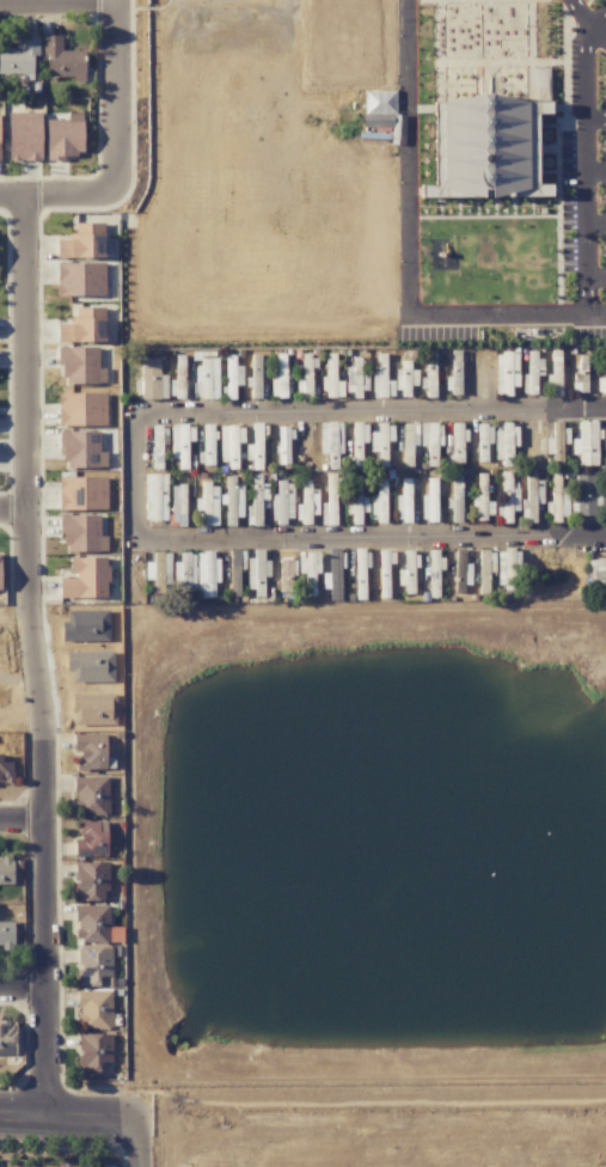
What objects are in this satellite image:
road: (598, 26)
building: (19, 56)
building: (62, 60)
road: (116, 92)
building: (384, 114)
road: (594, 117)
building: (24, 135)
building: (65, 136)
building: (490, 147)
road: (583, 148)
road: (595, 172)
building: (434, 177)
road: (59, 194)
road: (595, 225)
building: (82, 242)
road: (409, 242)
road: (595, 276)
building: (80, 279)
road: (595, 311)
building: (82, 325)
building: (80, 366)
building: (280, 367)
building: (506, 372)
building: (531, 372)
building: (555, 372)
building: (256, 374)
building: (207, 378)
building: (405, 378)
building: (381, 379)
building: (152, 380)
building: (355, 380)
building: (429, 381)
building: (81, 409)
building: (330, 441)
building: (506, 442)
building: (380, 444)
building: (556, 444)
building: (586, 444)
building: (179, 445)
building: (605, 445)
building: (80, 448)
building: (157, 448)
building: (208, 454)
building: (228, 456)
road: (136, 473)
building: (81, 493)
building: (532, 495)
building: (584, 495)
building: (154, 497)
building: (508, 499)
building: (330, 500)
building: (355, 500)
building: (482, 500)
building: (232, 501)
building: (307, 502)
building: (379, 502)
building: (282, 503)
building: (178, 505)
building: (207, 505)
road: (14, 511)
building: (81, 533)
building: (183, 570)
building: (308, 570)
building: (507, 570)
building: (161, 572)
building: (460, 572)
building: (483, 572)
building: (206, 573)
building: (234, 573)
building: (406, 573)
building: (595, 573)
building: (284, 574)
building: (85, 579)
building: (0, 582)
building: (86, 625)
road: (30, 656)
building: (90, 666)
building: (93, 709)
building: (90, 750)
building: (6, 771)
building: (91, 795)
road: (20, 813)
building: (91, 839)
building: (6, 870)
building: (91, 881)
road: (155, 911)
building: (94, 924)
building: (6, 935)
building: (94, 966)
road: (22, 992)
building: (94, 1008)
building: (6, 1038)
building: (93, 1051)
road: (69, 1118)
road: (140, 1144)

